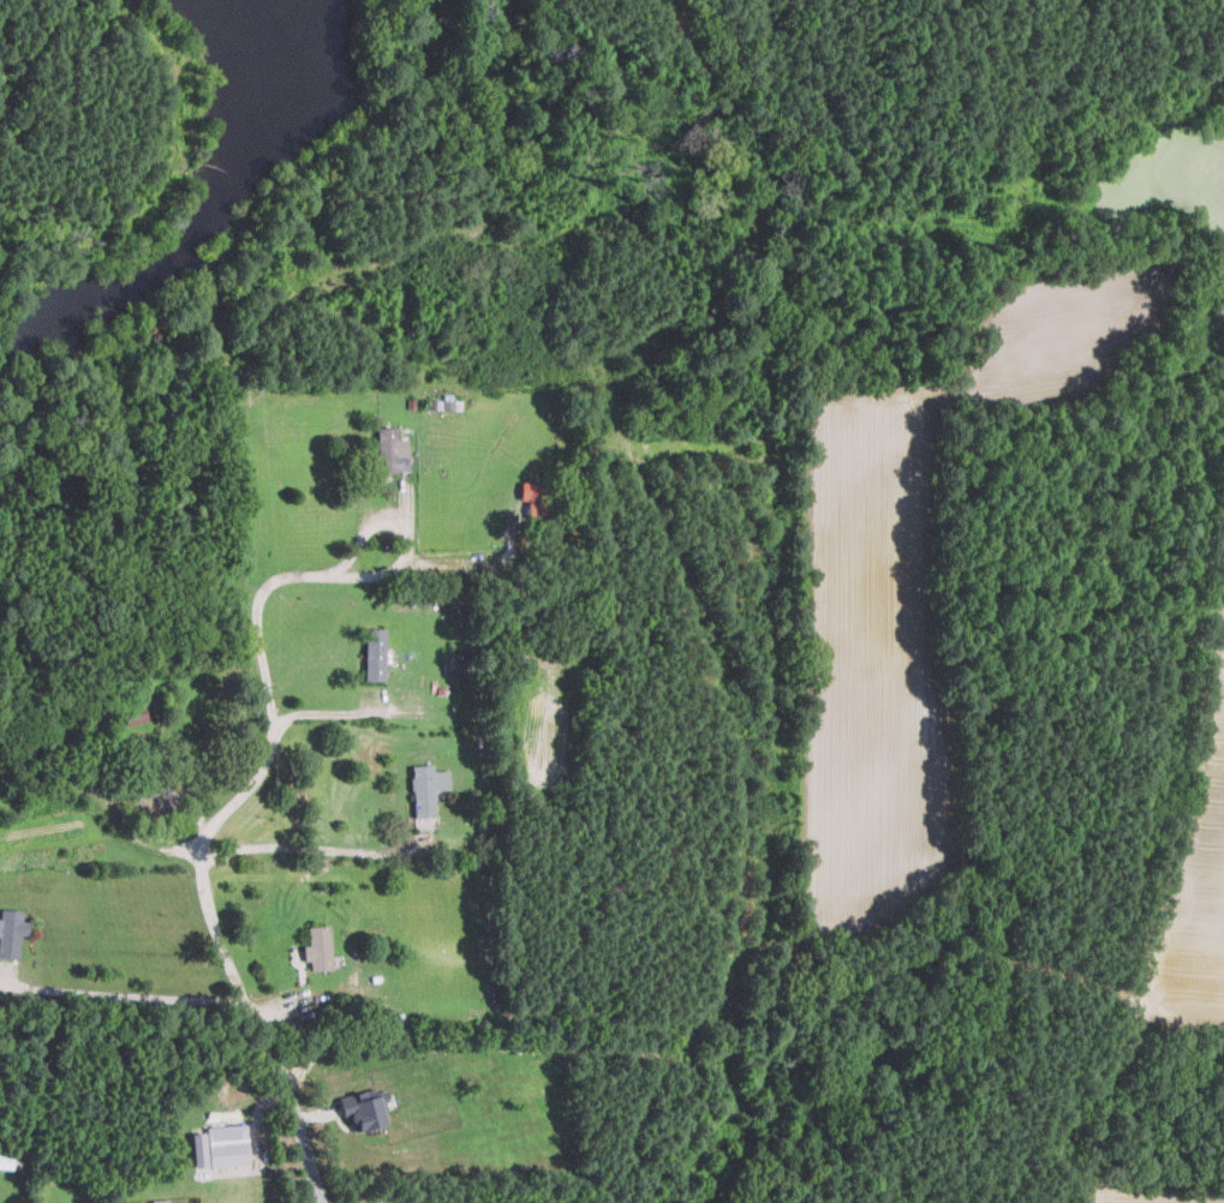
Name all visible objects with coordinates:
building: (392, 449)
building: (532, 492)
building: (375, 653)
road: (326, 712)
building: (428, 788)
road: (215, 819)
road: (310, 848)
building: (11, 930)
building: (318, 946)
road: (125, 994)
building: (364, 1107)
building: (221, 1145)
building: (6, 1160)
building: (159, 1201)

